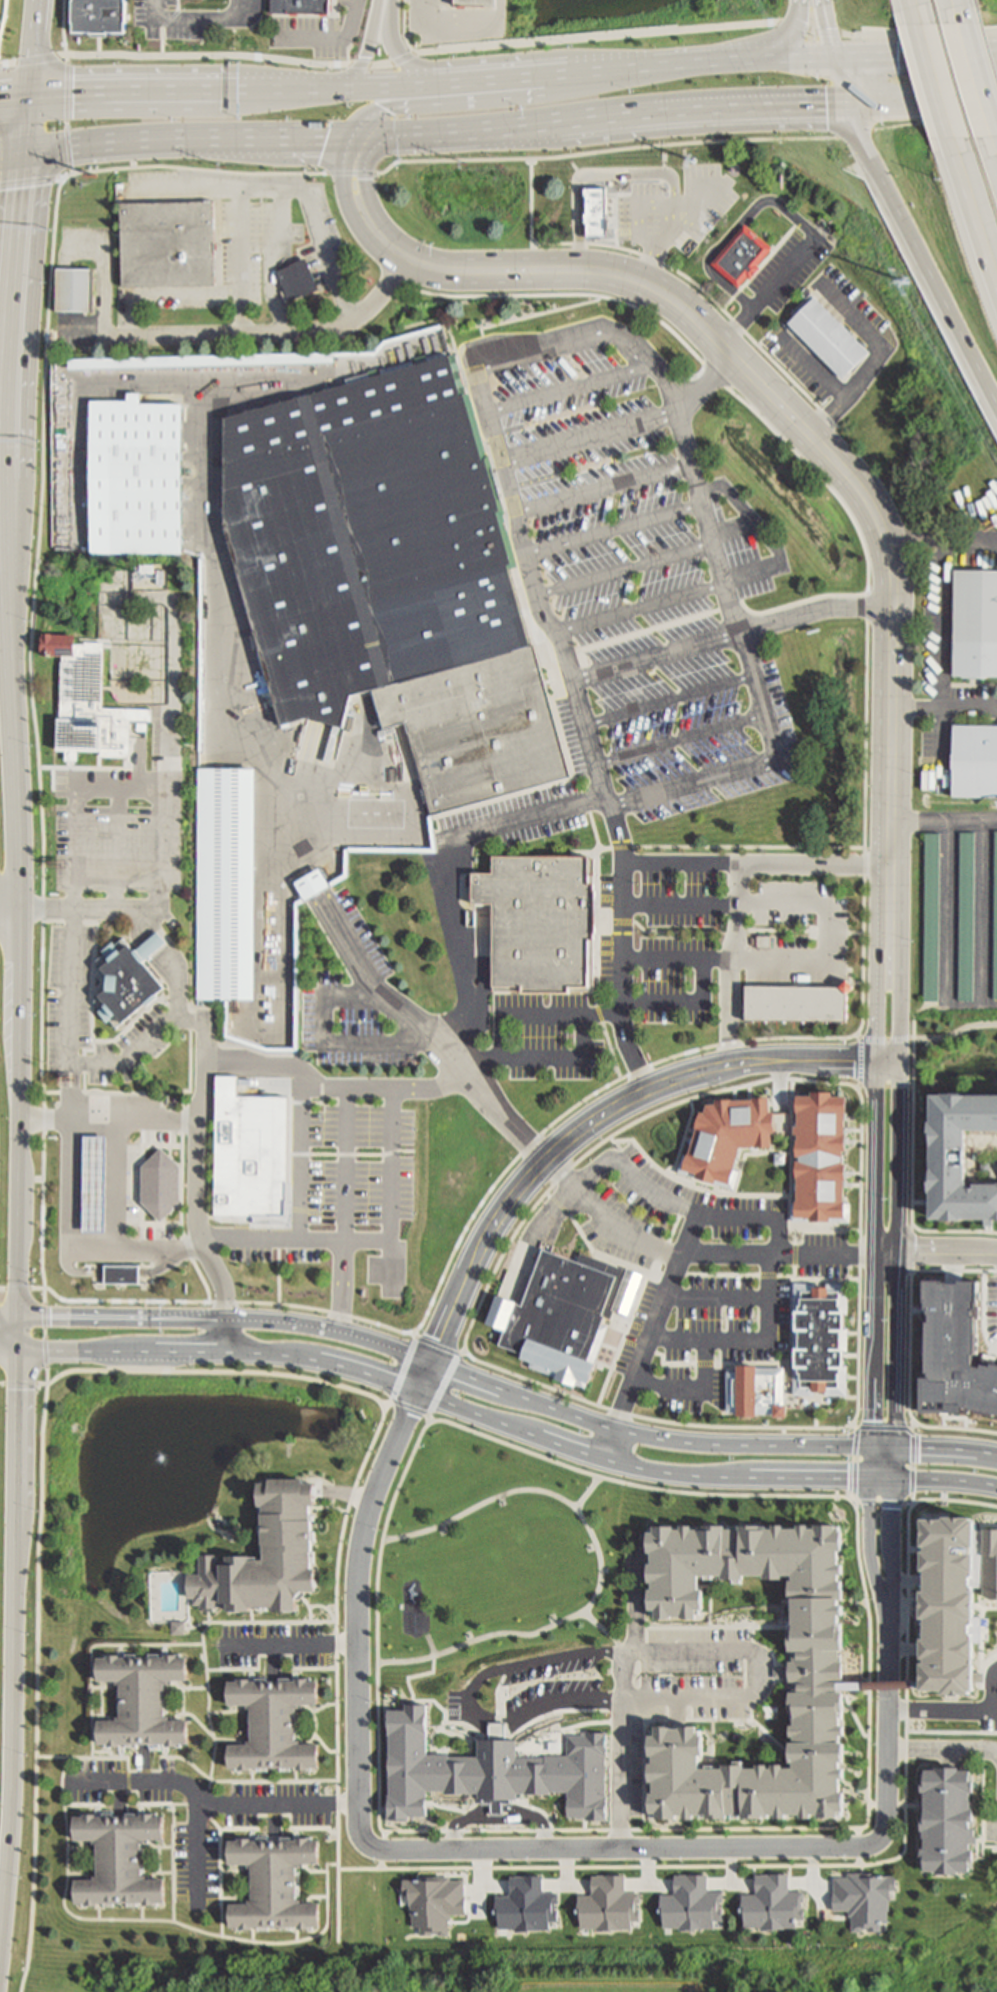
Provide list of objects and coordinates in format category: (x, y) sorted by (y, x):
parking lot: (350, 1)
building: (477, 3)
building: (302, 7)
road: (911, 7)
road: (963, 7)
road: (155, 8)
road: (236, 12)
road: (502, 13)
building: (99, 17)
parking lot: (175, 17)
road: (187, 17)
road: (64, 26)
road: (451, 27)
road: (406, 28)
parking lot: (454, 29)
road: (830, 30)
parking lot: (309, 32)
road: (813, 33)
road: (604, 35)
road: (328, 37)
road: (922, 37)
road: (368, 44)
road: (34, 45)
road: (786, 49)
road: (422, 52)
road: (209, 54)
road: (38, 56)
road: (404, 58)
road: (944, 58)
road: (5, 60)
road: (865, 60)
traffic signals: (839, 61)
road: (788, 62)
road: (383, 63)
road: (363, 64)
road: (417, 68)
road: (981, 70)
road: (845, 82)
road: (385, 84)
road: (933, 87)
road: (17, 92)
traffic signals: (34, 92)
road: (483, 97)
road: (924, 102)
traffic signals: (851, 104)
road: (67, 112)
road: (619, 116)
road: (28, 120)
road: (935, 123)
road: (855, 131)
road: (368, 135)
traffic signals: (389, 135)
traffic signals: (348, 136)
road: (185, 137)
road: (684, 143)
road: (11, 149)
traffic signals: (23, 149)
road: (360, 155)
road: (453, 158)
power tower: (675, 159)
power tower: (583, 160)
power tower: (400, 162)
road: (345, 163)
power tower: (225, 165)
power tower: (81, 168)
road: (193, 168)
road: (595, 171)
road: (352, 172)
road: (30, 178)
road: (287, 186)
road: (644, 202)
parking lot: (675, 204)
road: (692, 210)
building: (598, 213)
road: (283, 220)
road: (973, 225)
parking lot: (256, 227)
road: (733, 229)
road: (658, 241)
building: (169, 244)
road: (919, 252)
building: (741, 253)
road: (242, 258)
parking lot: (789, 265)
road: (674, 269)
road: (784, 274)
building: (298, 280)
power tower: (906, 282)
road: (188, 290)
road: (272, 290)
building: (74, 291)
parking lot: (848, 300)
road: (133, 311)
road: (13, 312)
road: (532, 317)
road: (738, 326)
road: (84, 330)
road: (209, 330)
road: (607, 330)
building: (826, 336)
building: (171, 363)
parking lot: (801, 363)
road: (862, 371)
road: (706, 381)
road: (570, 384)
road: (826, 415)
road: (589, 432)
road: (807, 432)
building: (137, 478)
road: (604, 486)
road: (613, 525)
road: (7, 536)
road: (940, 539)
road: (623, 565)
road: (869, 570)
building: (391, 580)
parking lot: (629, 582)
road: (639, 604)
building: (976, 624)
road: (9, 628)
road: (730, 632)
building: (56, 647)
building: (80, 683)
road: (668, 696)
road: (943, 706)
road: (38, 730)
building: (115, 730)
building: (78, 736)
road: (679, 737)
building: (973, 762)
road: (117, 763)
road: (15, 786)
road: (943, 821)
road: (756, 866)
road: (445, 868)
building: (223, 886)
building: (309, 886)
road: (79, 908)
road: (946, 910)
road: (982, 911)
building: (965, 918)
building: (930, 919)
building: (542, 923)
building: (995, 925)
parking lot: (800, 934)
road: (827, 935)
road: (730, 965)
road: (618, 970)
parking lot: (624, 970)
building: (130, 980)
parking lot: (352, 997)
road: (901, 998)
road: (877, 999)
parking lot: (69, 1004)
building: (797, 1004)
road: (69, 1014)
road: (18, 1016)
road: (586, 1016)
road: (426, 1028)
road: (156, 1029)
road: (914, 1030)
road: (955, 1033)
road: (884, 1041)
road: (330, 1043)
road: (558, 1057)
road: (861, 1066)
road: (205, 1073)
road: (321, 1104)
road: (111, 1120)
road: (608, 1139)
road: (524, 1153)
building: (252, 1155)
road: (353, 1155)
building: (778, 1156)
road: (912, 1157)
building: (711, 1158)
road: (302, 1159)
building: (957, 1160)
road: (592, 1167)
building: (983, 1169)
road: (571, 1182)
road: (393, 1184)
building: (96, 1185)
gas station: (96, 1185)
road: (117, 1186)
building: (162, 1186)
parking lot: (347, 1190)
road: (291, 1192)
road: (347, 1208)
road: (300, 1210)
road: (704, 1211)
road: (20, 1216)
road: (953, 1232)
road: (636, 1236)
road: (300, 1242)
road: (898, 1243)
road: (875, 1244)
road: (74, 1252)
road: (779, 1252)
road: (936, 1252)
road: (861, 1257)
road: (956, 1271)
road: (281, 1274)
building: (124, 1275)
parking lot: (702, 1275)
road: (24, 1287)
road: (662, 1303)
parking lot: (992, 1309)
building: (563, 1310)
road: (453, 1312)
road: (10, 1314)
traffic signals: (20, 1314)
road: (984, 1314)
road: (21, 1330)
road: (11, 1333)
road: (48, 1335)
road: (751, 1338)
building: (818, 1343)
road: (11, 1346)
traffic signals: (22, 1346)
road: (452, 1353)
building: (956, 1353)
road: (404, 1370)
road: (203, 1372)
road: (443, 1384)
road: (507, 1387)
building: (754, 1387)
road: (910, 1388)
road: (389, 1404)
road: (412, 1408)
road: (954, 1418)
road: (430, 1419)
road: (507, 1425)
road: (855, 1426)
road: (614, 1427)
road: (913, 1427)
road: (20, 1428)
road: (882, 1429)
road: (910, 1432)
traffic signals: (872, 1447)
traffic signals: (896, 1447)
road: (855, 1464)
road: (913, 1469)
traffic signals: (871, 1478)
traffic signals: (894, 1479)
road: (588, 1493)
road: (853, 1502)
road: (882, 1503)
road: (891, 1525)
road: (869, 1526)
park: (486, 1546)
building: (266, 1558)
building: (991, 1561)
road: (601, 1564)
building: (943, 1601)
building: (180, 1629)
road: (608, 1632)
parking lot: (274, 1644)
road: (290, 1644)
road: (94, 1647)
road: (719, 1651)
road: (273, 1661)
building: (822, 1668)
building: (780, 1673)
parking lot: (621, 1691)
road: (210, 1700)
building: (144, 1701)
road: (623, 1704)
road: (942, 1715)
road: (11, 1716)
road: (888, 1721)
road: (467, 1724)
building: (273, 1725)
road: (942, 1747)
road: (179, 1757)
road: (145, 1765)
building: (492, 1771)
road: (119, 1792)
road: (121, 1798)
road: (214, 1802)
parking lot: (202, 1815)
road: (273, 1820)
building: (946, 1820)
road: (379, 1826)
road: (242, 1829)
road: (199, 1845)
road: (629, 1849)
building: (120, 1861)
road: (174, 1863)
road: (841, 1866)
building: (274, 1884)
building: (863, 1900)
building: (772, 1905)
road: (159, 1920)
park: (610, 1985)

